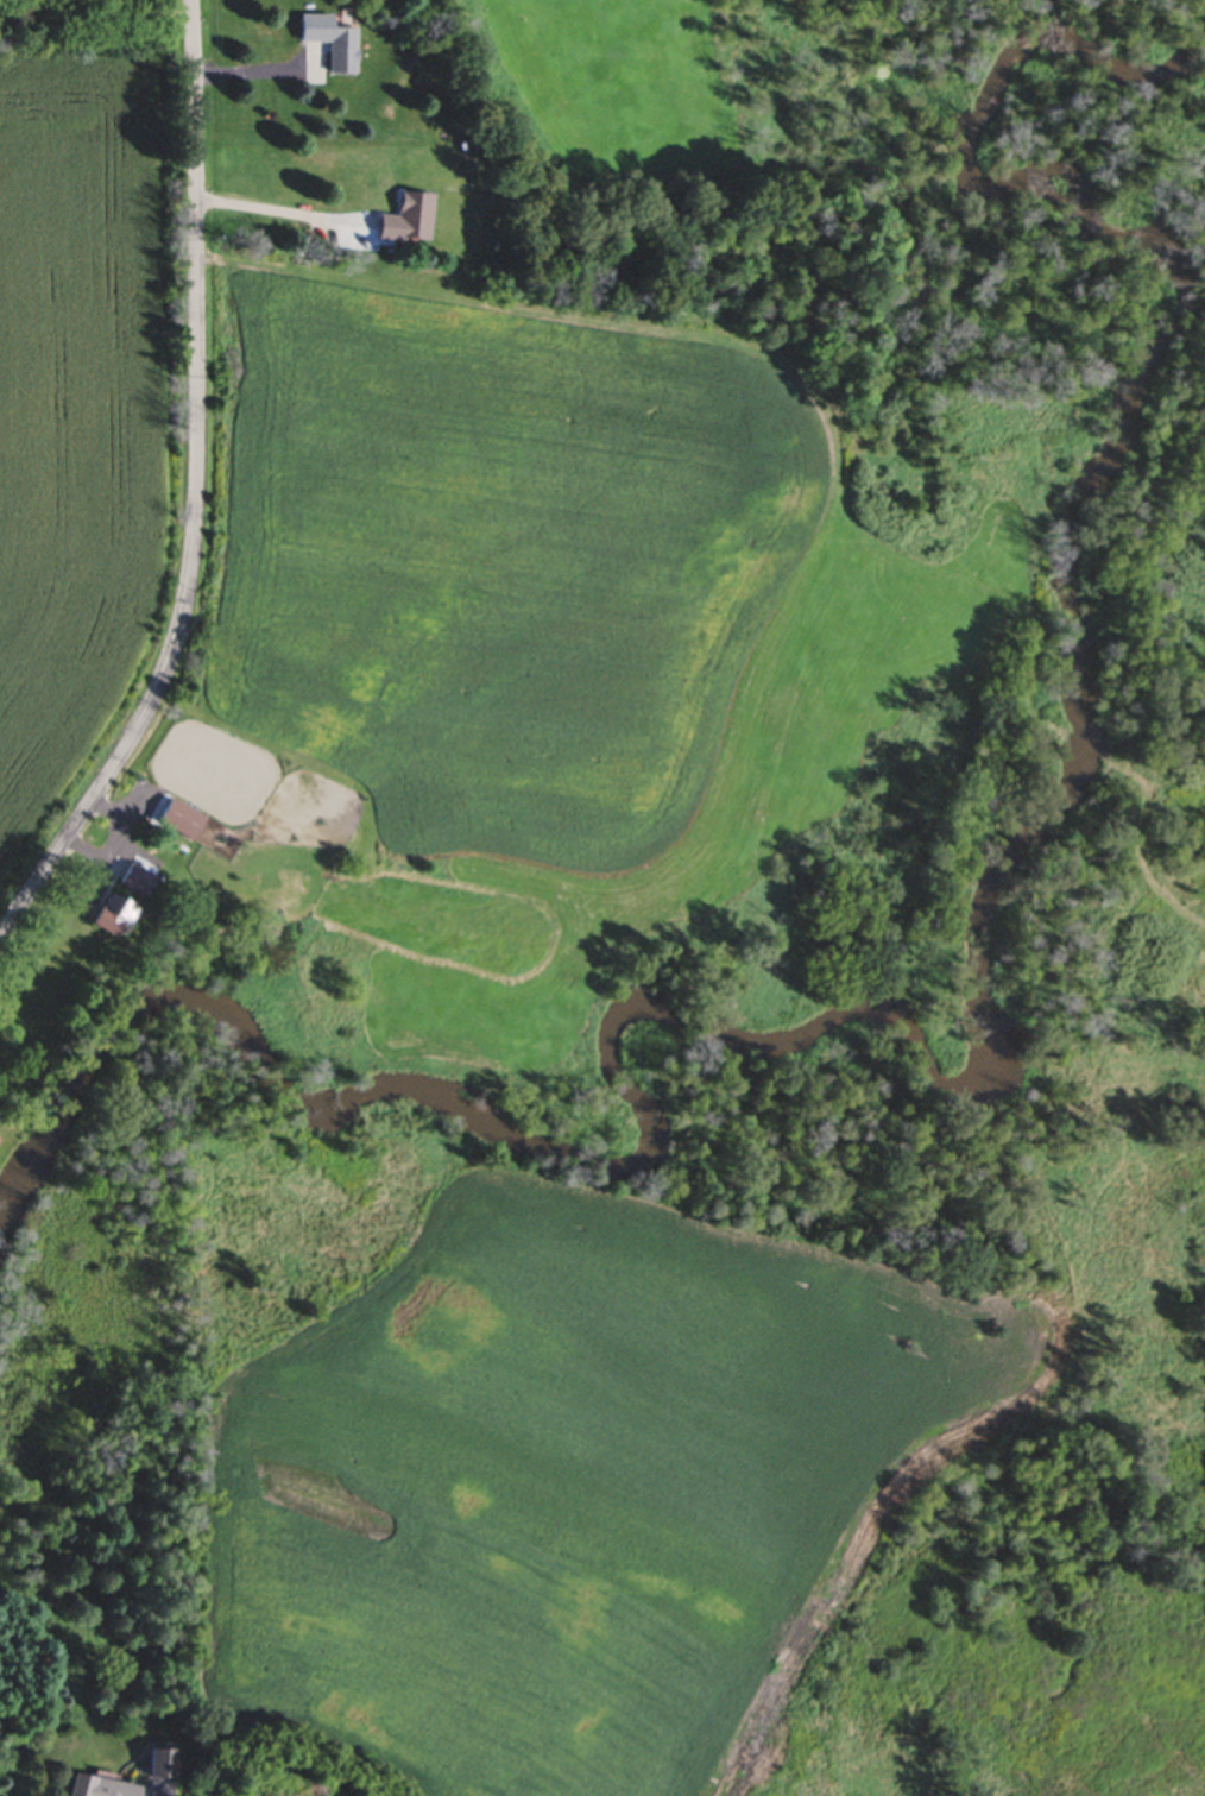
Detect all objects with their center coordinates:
road: (94, 13)
building: (327, 44)
road: (279, 210)
building: (402, 223)
road: (197, 491)
building: (132, 881)
building: (106, 916)
river: (978, 1076)
building: (158, 1765)
building: (94, 1788)

